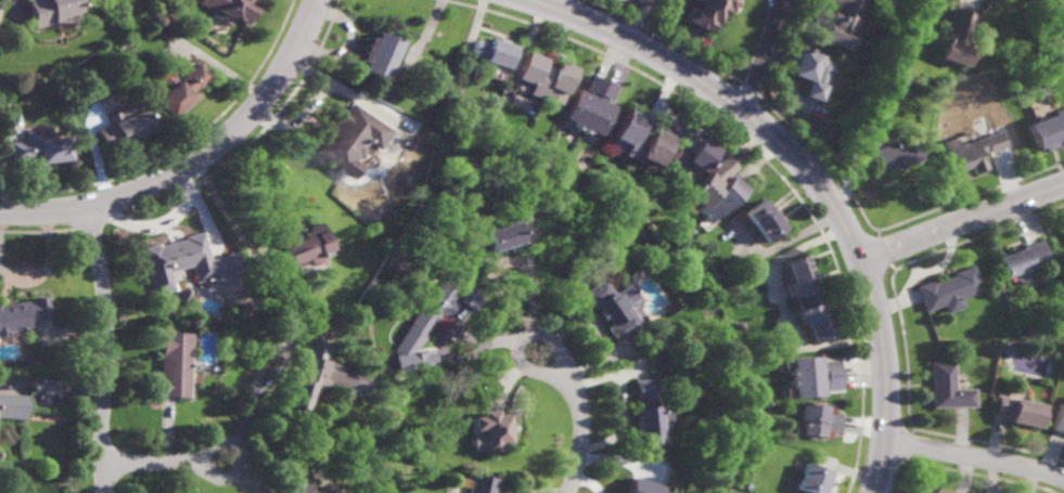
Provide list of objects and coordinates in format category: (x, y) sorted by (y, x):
road: (972, 1)
building: (232, 10)
building: (53, 11)
building: (709, 11)
building: (843, 23)
building: (956, 36)
building: (490, 51)
building: (379, 52)
road: (765, 56)
building: (810, 70)
building: (541, 76)
building: (180, 87)
building: (1037, 94)
building: (110, 103)
building: (590, 105)
building: (126, 125)
building: (1048, 128)
building: (350, 137)
building: (657, 137)
building: (41, 146)
building: (887, 151)
building: (970, 152)
building: (692, 154)
road: (196, 161)
road: (808, 176)
building: (714, 189)
road: (221, 208)
building: (760, 220)
road: (962, 222)
building: (497, 233)
building: (305, 244)
building: (178, 260)
building: (1024, 260)
building: (949, 289)
building: (804, 298)
building: (613, 308)
building: (24, 313)
building: (432, 319)
road: (523, 339)
road: (108, 349)
building: (176, 364)
building: (811, 376)
building: (318, 377)
building: (948, 388)
building: (13, 406)
building: (1018, 411)
building: (646, 414)
building: (1059, 417)
building: (817, 419)
building: (491, 429)
road: (585, 429)
road: (974, 456)
road: (176, 460)
building: (812, 479)
building: (484, 484)
building: (639, 486)
building: (300, 488)
building: (326, 490)
building: (928, 491)

